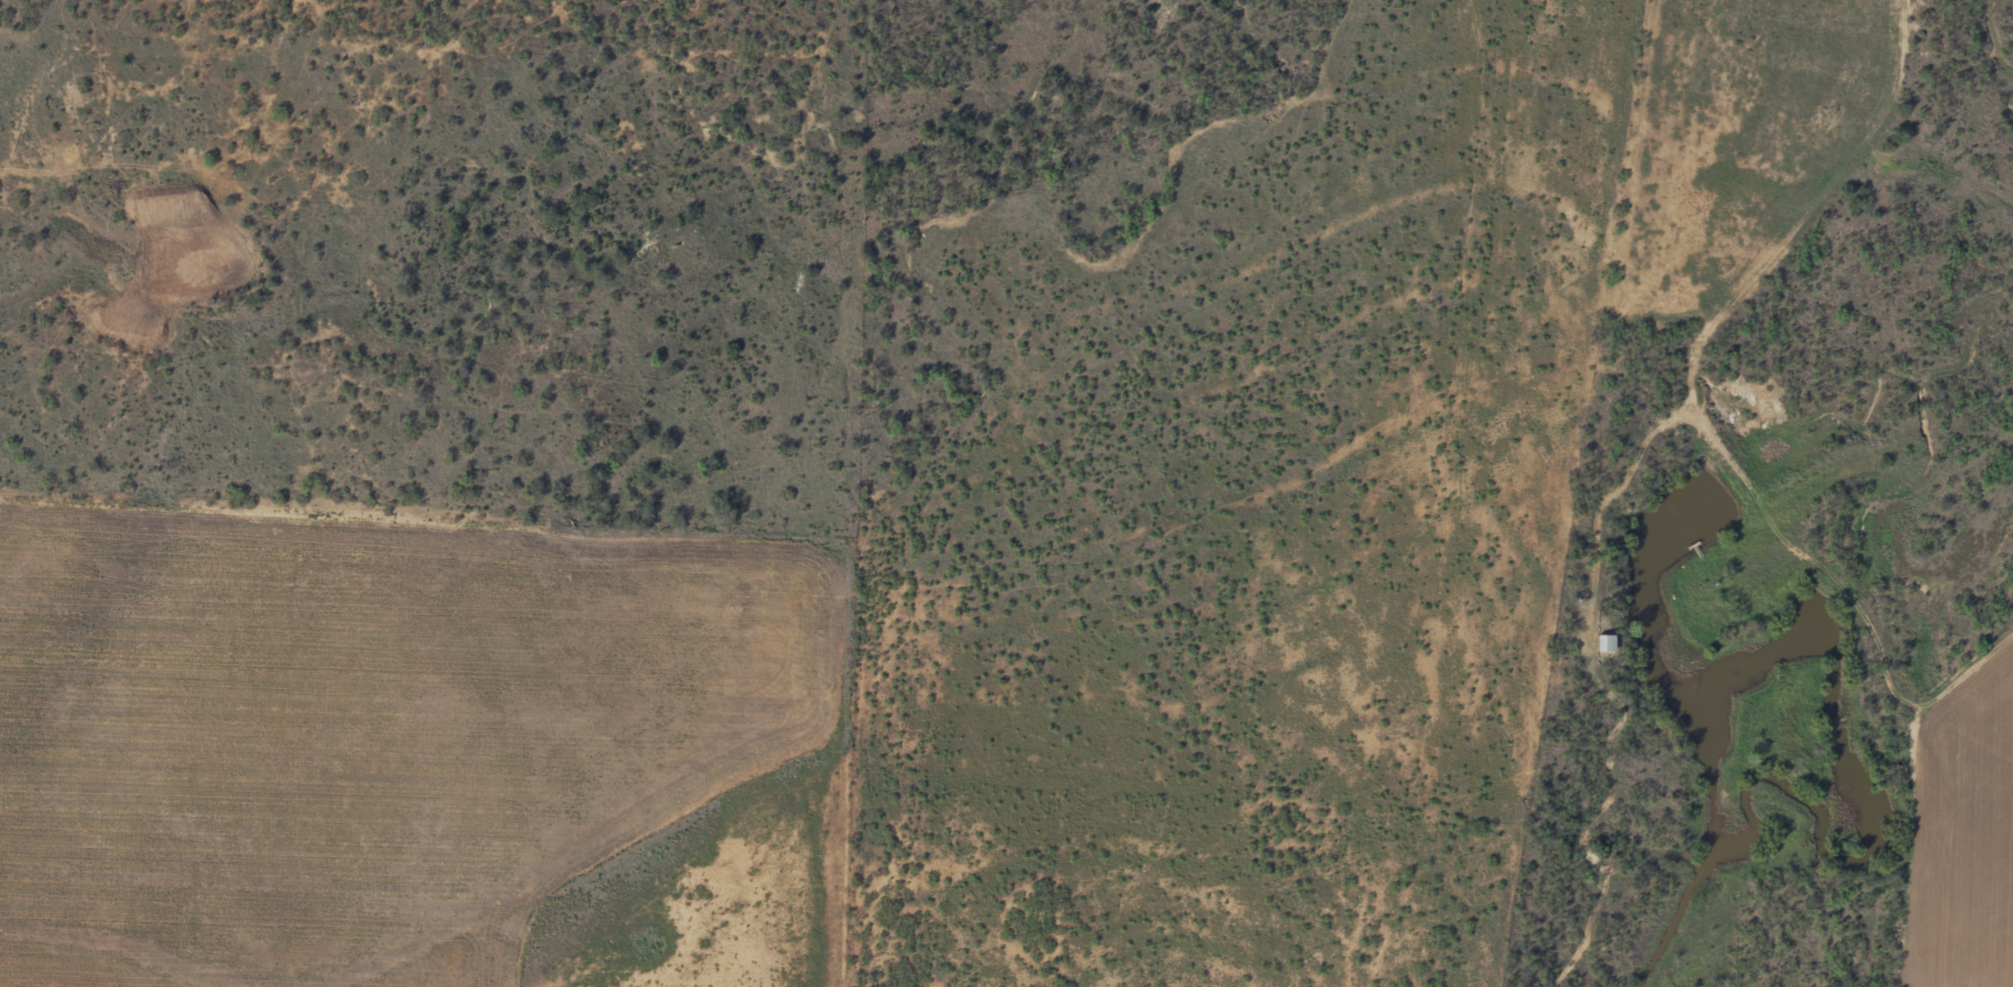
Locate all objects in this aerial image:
building: (1604, 644)

